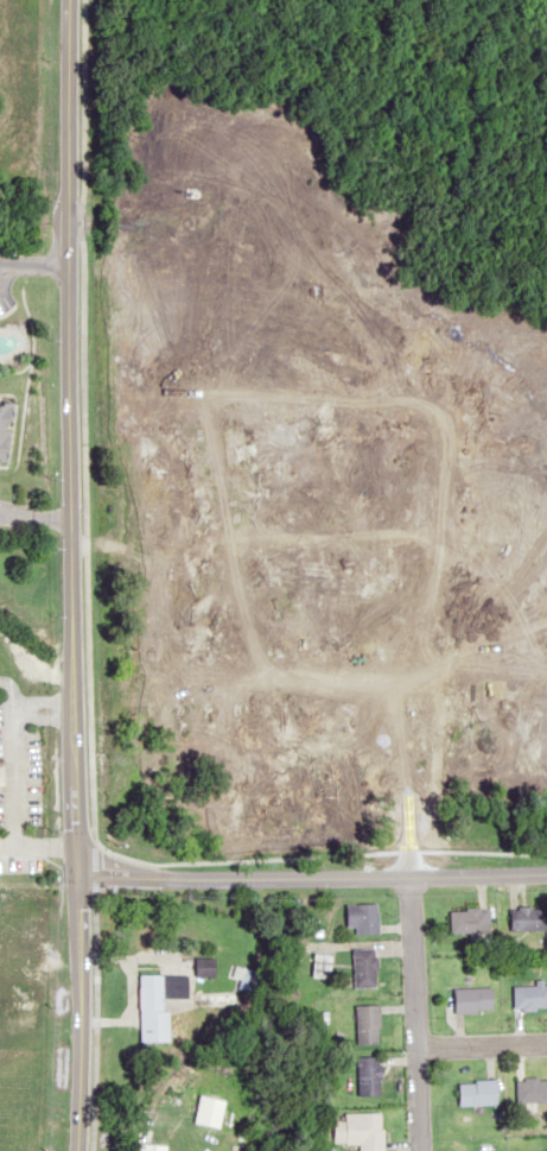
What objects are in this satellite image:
road: (32, 265)
building: (4, 434)
road: (426, 464)
road: (33, 523)
road: (250, 536)
road: (66, 575)
road: (85, 575)
road: (249, 688)
road: (310, 875)
building: (361, 917)
building: (528, 918)
building: (466, 921)
building: (318, 965)
building: (362, 967)
building: (529, 997)
building: (471, 999)
building: (155, 1004)
road: (413, 1012)
building: (365, 1024)
road: (481, 1043)
building: (367, 1074)
building: (530, 1088)
building: (476, 1090)
building: (358, 1130)
building: (148, 1146)

